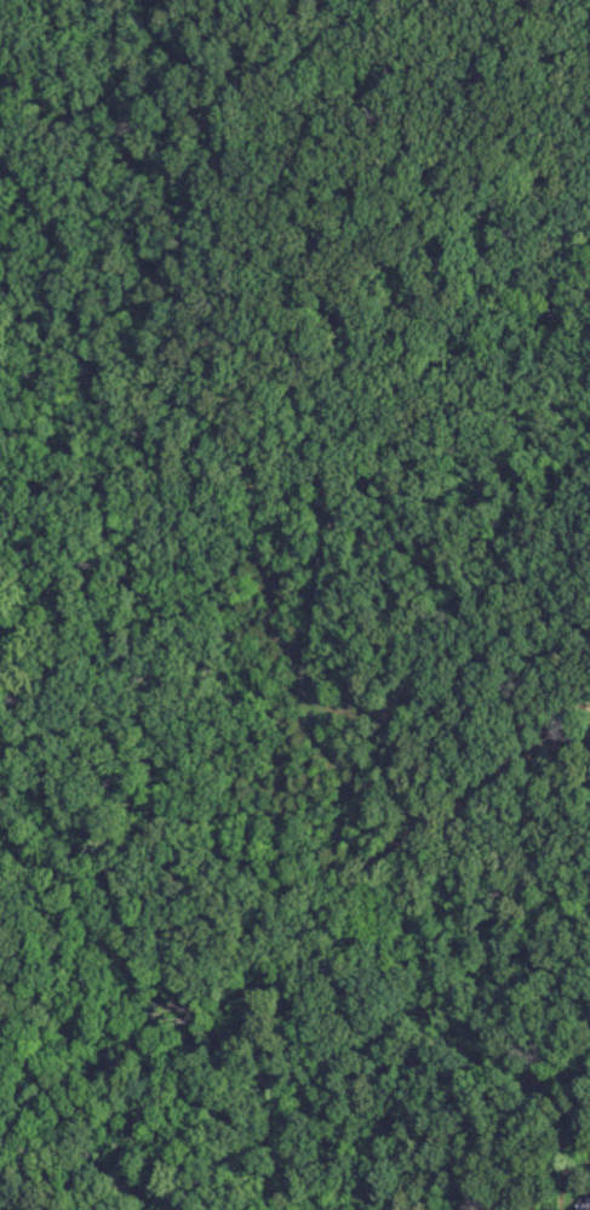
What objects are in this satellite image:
road: (563, 1085)
building: (588, 1206)

